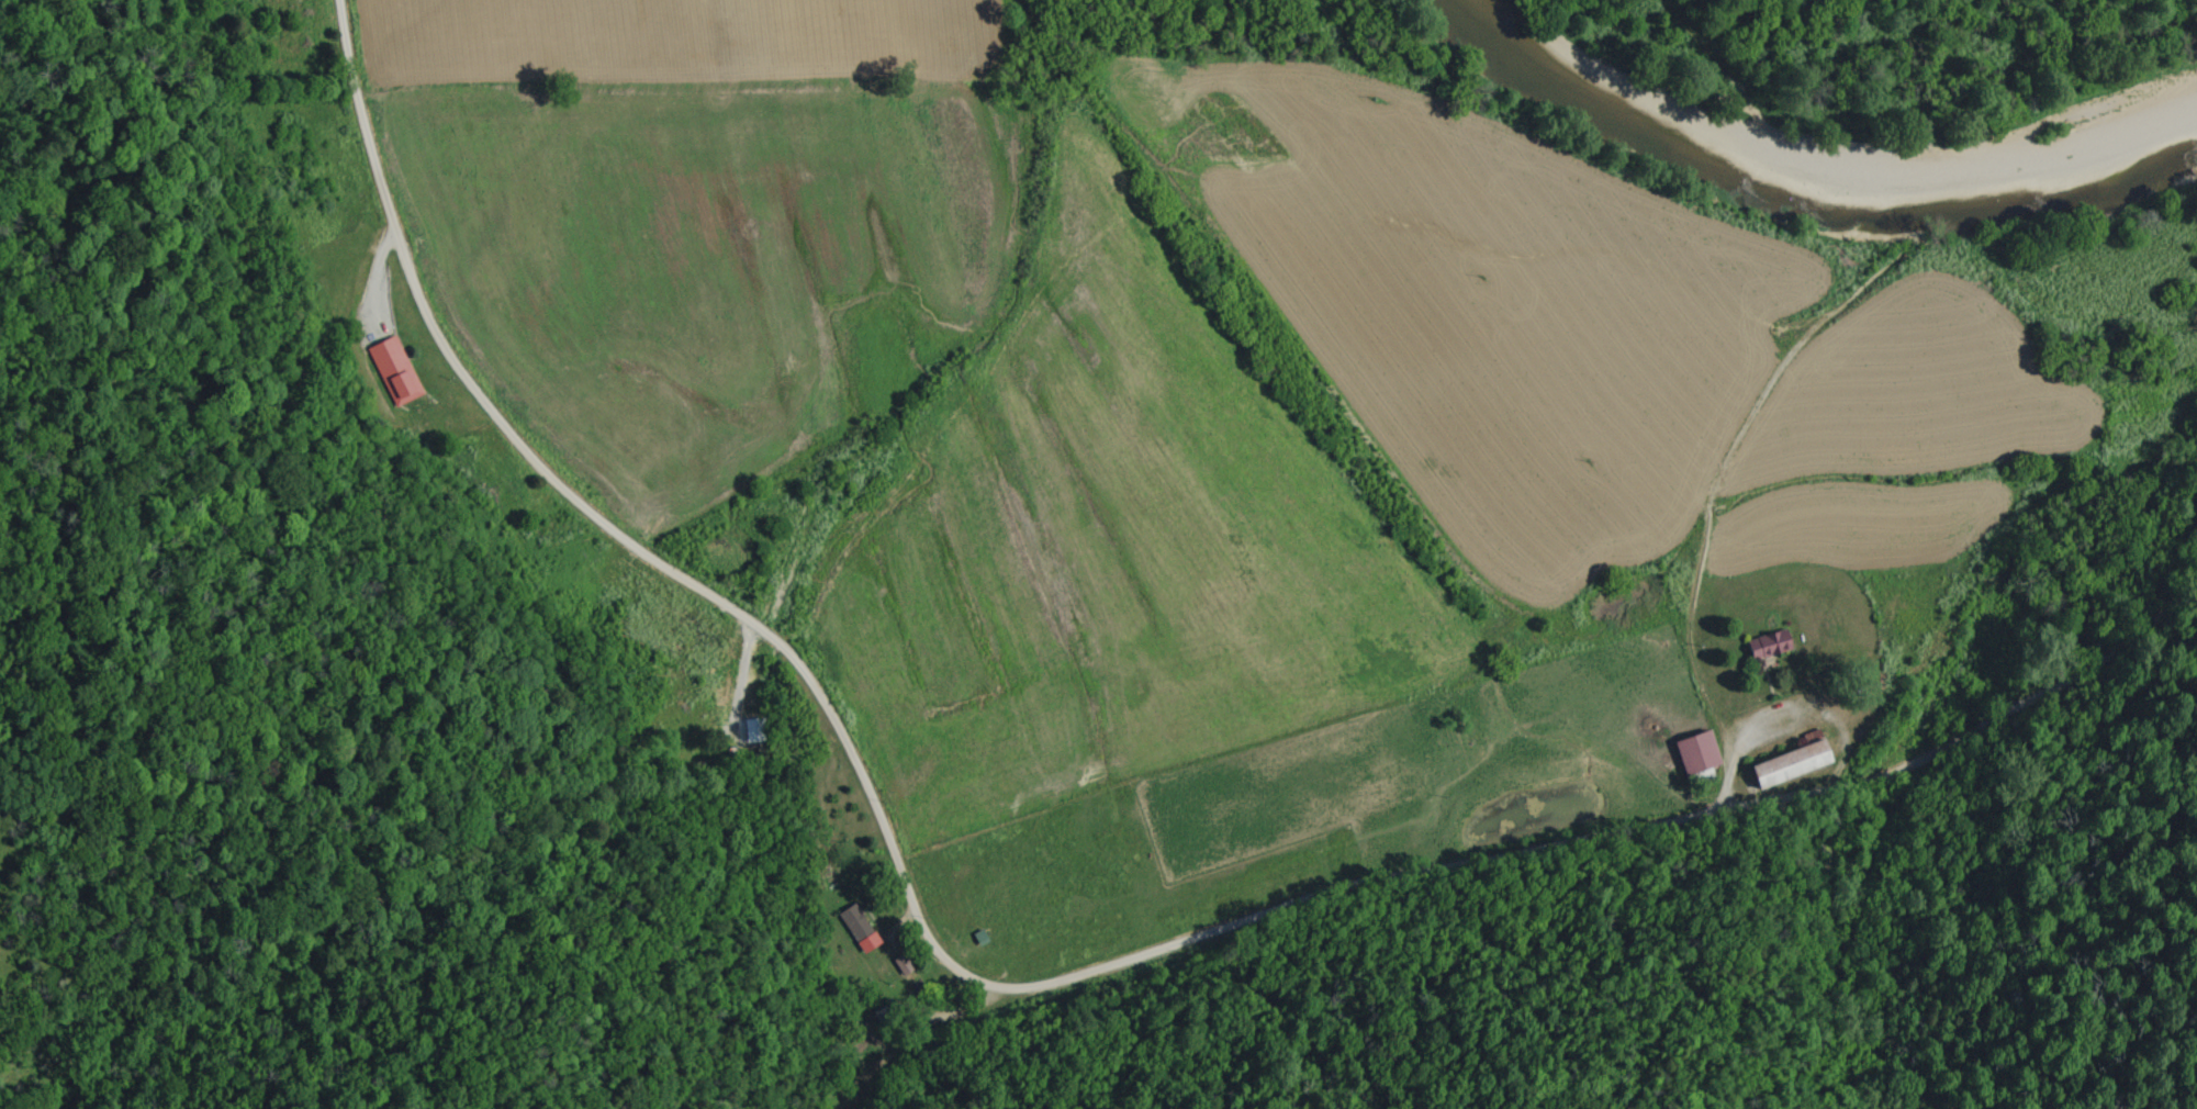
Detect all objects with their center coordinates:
river: (1812, 184)
building: (395, 372)
crop: (1177, 425)
building: (1762, 646)
building: (1690, 752)
building: (1782, 764)
building: (853, 929)
road: (1008, 992)

